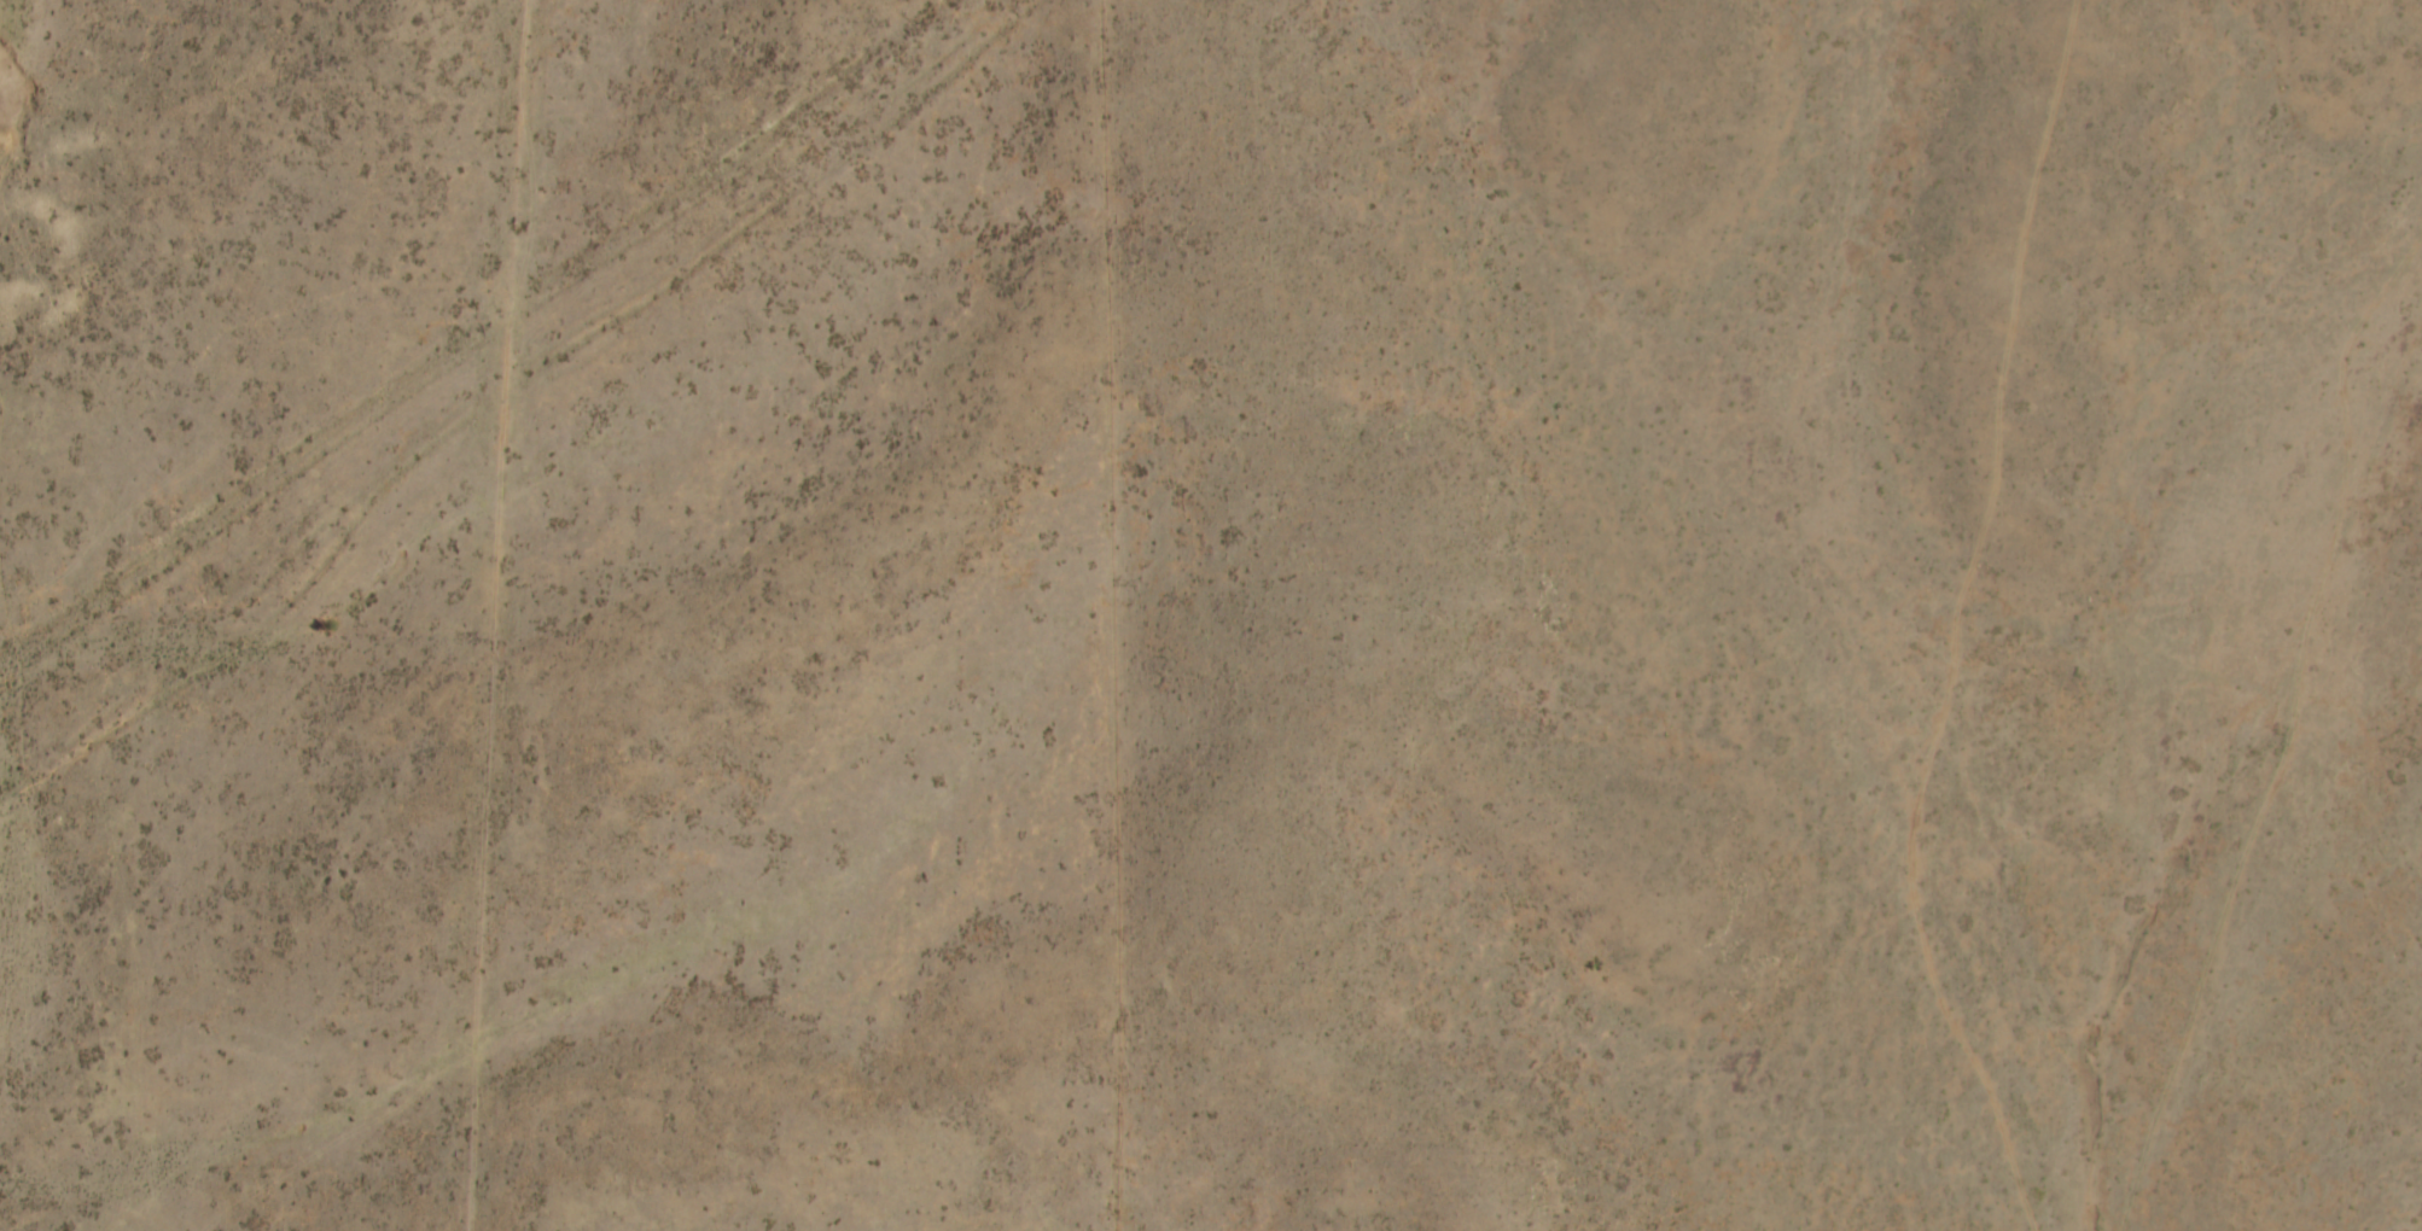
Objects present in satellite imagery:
road: (470, 357)
road: (1914, 615)
road: (1184, 628)

